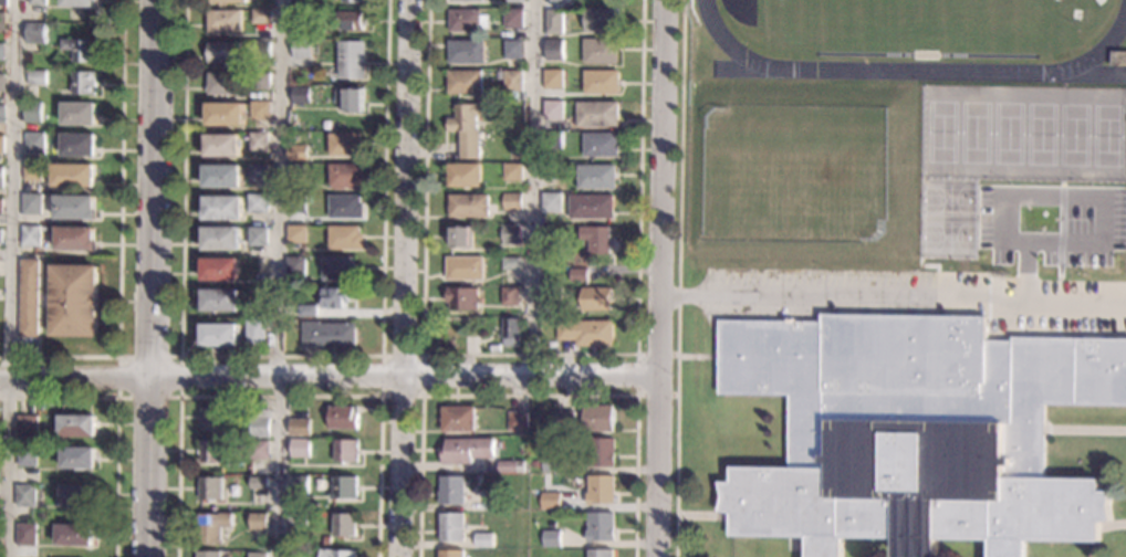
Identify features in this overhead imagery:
building: (465, 0)
building: (229, 1)
building: (354, 1)
building: (514, 1)
building: (560, 1)
building: (3, 2)
building: (37, 2)
building: (79, 3)
building: (301, 15)
building: (260, 17)
building: (514, 19)
building: (222, 20)
building: (351, 20)
building: (602, 20)
building: (2, 21)
building: (467, 21)
building: (554, 22)
park: (921, 24)
building: (35, 33)
building: (81, 49)
building: (302, 49)
building: (260, 50)
building: (513, 50)
building: (554, 50)
building: (1, 52)
building: (222, 52)
building: (467, 52)
building: (601, 52)
building: (352, 60)
building: (1119, 60)
building: (35, 77)
building: (553, 78)
building: (260, 81)
building: (513, 81)
building: (601, 82)
building: (1, 83)
building: (83, 83)
building: (466, 83)
building: (223, 84)
building: (300, 96)
building: (351, 101)
building: (33, 109)
building: (260, 111)
building: (553, 111)
building: (2, 114)
building: (79, 114)
building: (223, 114)
building: (597, 115)
building: (469, 127)
building: (553, 140)
building: (258, 143)
building: (34, 144)
building: (346, 144)
building: (1, 145)
building: (77, 145)
building: (601, 145)
building: (221, 146)
building: (298, 153)
building: (31, 172)
building: (298, 172)
building: (512, 172)
building: (258, 174)
building: (73, 176)
building: (221, 176)
building: (347, 176)
building: (465, 176)
building: (0, 177)
building: (596, 177)
road: (532, 188)
building: (512, 202)
building: (552, 202)
building: (257, 203)
building: (31, 204)
building: (296, 206)
building: (470, 206)
building: (0, 207)
building: (73, 207)
building: (592, 207)
building: (221, 208)
building: (346, 208)
building: (511, 234)
building: (295, 235)
building: (29, 237)
road: (118, 237)
building: (257, 237)
building: (0, 238)
building: (344, 238)
building: (460, 238)
building: (74, 239)
building: (221, 239)
building: (596, 239)
building: (511, 263)
building: (295, 266)
building: (219, 269)
building: (340, 269)
building: (466, 269)
building: (578, 275)
road: (9, 277)
road: (275, 277)
road: (403, 277)
road: (658, 277)
road: (150, 278)
road: (678, 278)
building: (553, 295)
building: (511, 296)
building: (336, 297)
road: (892, 297)
building: (28, 298)
building: (463, 298)
building: (597, 299)
building: (73, 301)
building: (219, 302)
building: (307, 311)
building: (511, 332)
building: (256, 333)
building: (586, 333)
building: (219, 335)
building: (327, 335)
road: (383, 355)
road: (530, 355)
road: (278, 356)
road: (177, 357)
road: (637, 375)
road: (327, 377)
road: (530, 395)
road: (280, 396)
building: (344, 418)
building: (597, 418)
road: (116, 419)
building: (211, 419)
building: (459, 419)
building: (518, 421)
building: (564, 421)
building: (260, 422)
building: (25, 424)
building: (76, 425)
building: (299, 427)
road: (1085, 430)
building: (914, 432)
building: (300, 448)
building: (259, 450)
building: (468, 450)
building: (211, 451)
building: (347, 451)
building: (597, 452)
building: (25, 456)
building: (77, 458)
building: (551, 464)
building: (512, 466)
building: (259, 483)
building: (299, 485)
building: (345, 487)
building: (210, 488)
building: (452, 490)
building: (600, 490)
building: (24, 496)
building: (76, 496)
building: (494, 501)
building: (550, 501)
road: (694, 515)
road: (724, 516)
building: (299, 518)
building: (259, 522)
building: (346, 524)
road: (1112, 524)
building: (212, 526)
building: (453, 527)
building: (600, 527)
building: (24, 534)
building: (74, 535)
building: (551, 538)
building: (329, 540)
building: (486, 540)
building: (298, 553)
building: (600, 553)
building: (208, 554)
building: (340, 554)
building: (452, 554)
building: (259, 555)

